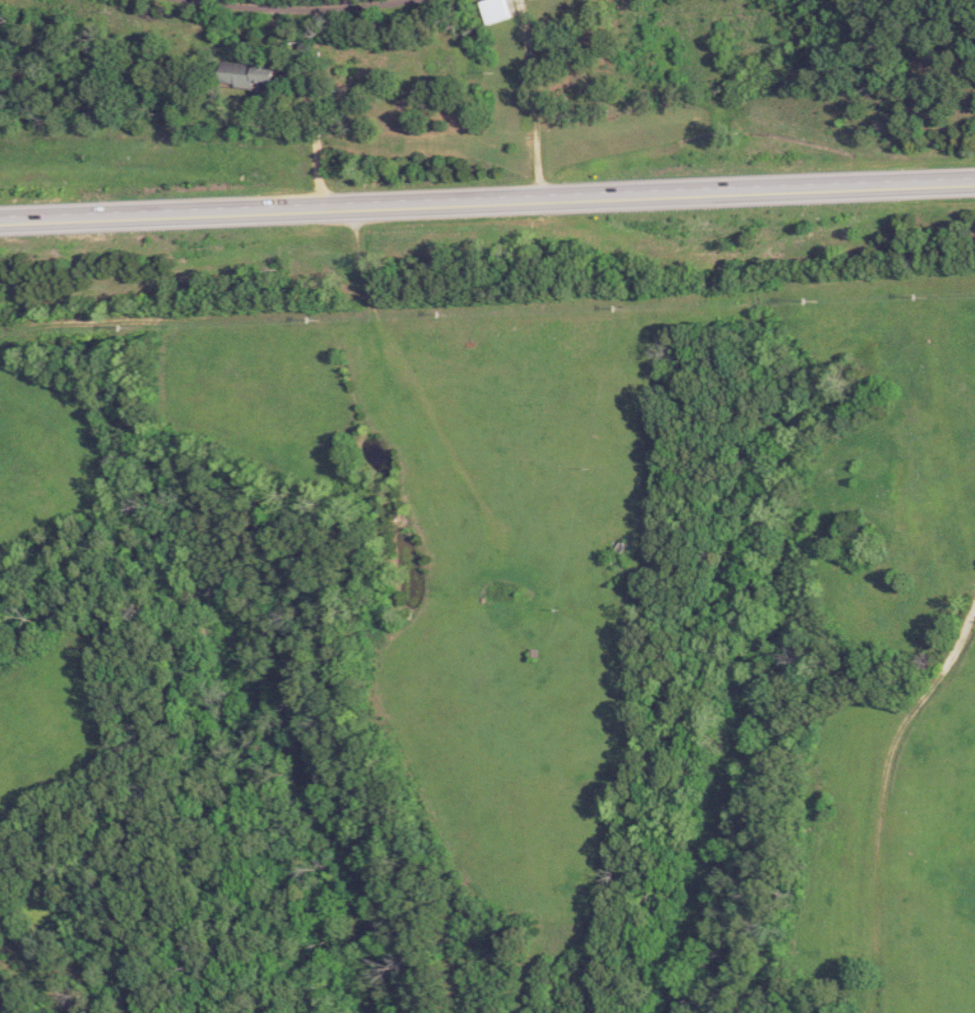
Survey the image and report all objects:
road: (296, 3)
building: (499, 10)
building: (251, 74)
road: (487, 199)

